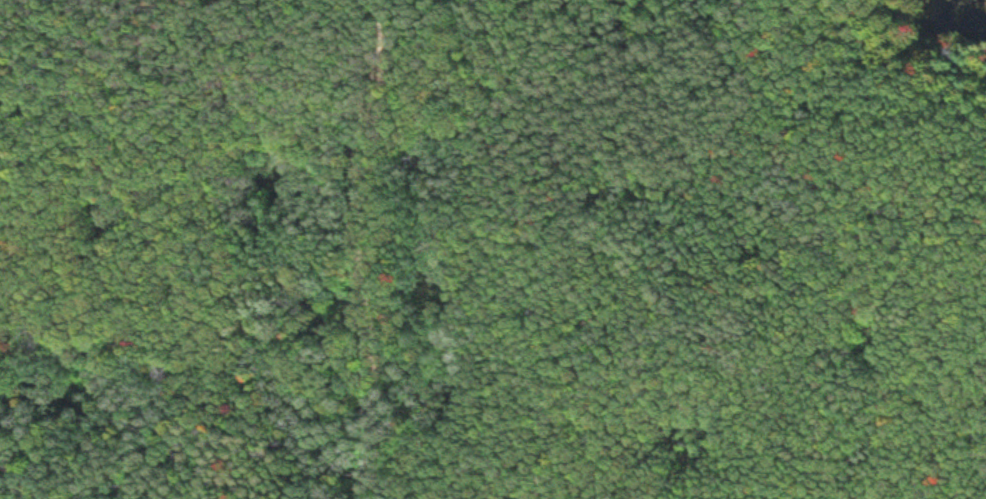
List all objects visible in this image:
road: (378, 33)
road: (366, 282)

